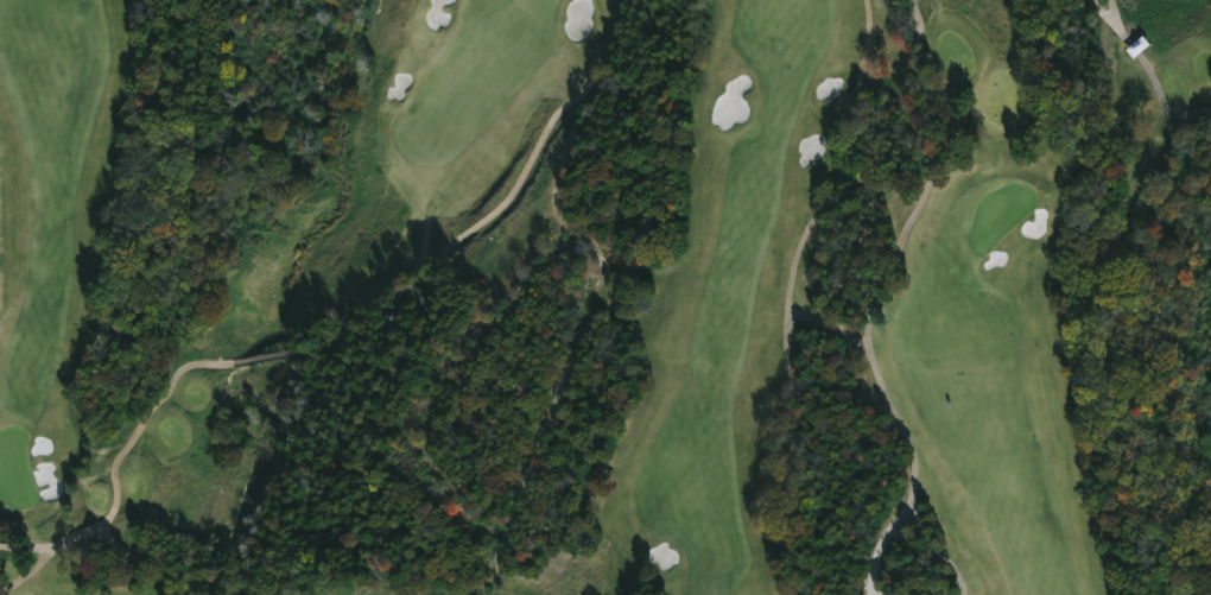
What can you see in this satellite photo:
road: (1102, 14)
road: (1149, 74)
park: (997, 213)
road: (790, 291)
road: (875, 295)
park: (605, 297)
road: (334, 343)
park: (14, 469)
road: (879, 545)
road: (26, 547)
road: (139, 564)

